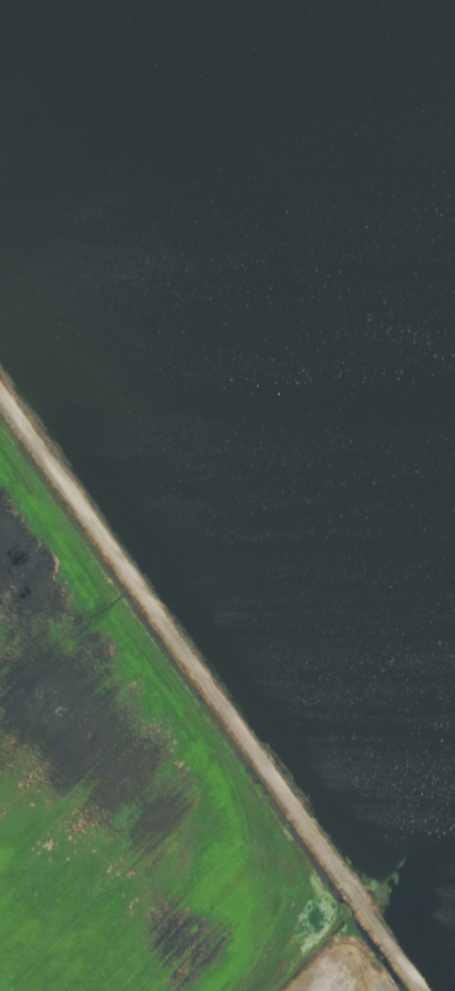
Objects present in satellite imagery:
crop: (227, 495)

